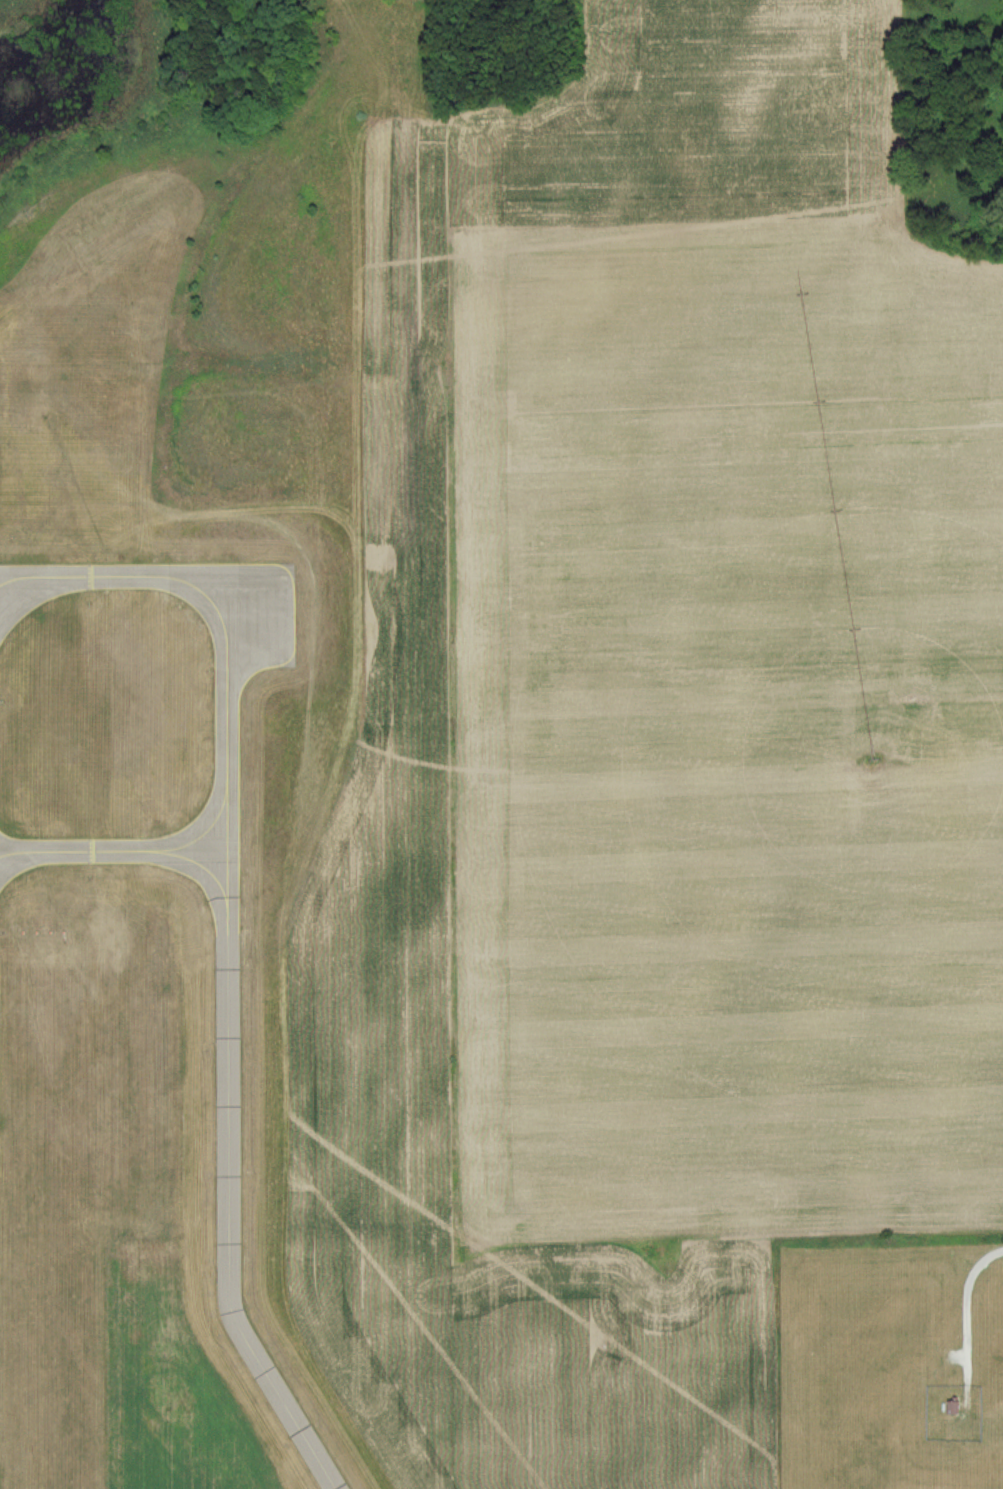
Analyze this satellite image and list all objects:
crop: (650, 771)
airport taxiway: (198, 837)
airport taxiway: (74, 852)
airport taxiway: (197, 865)
airport taxiway: (225, 949)
road: (969, 1303)

